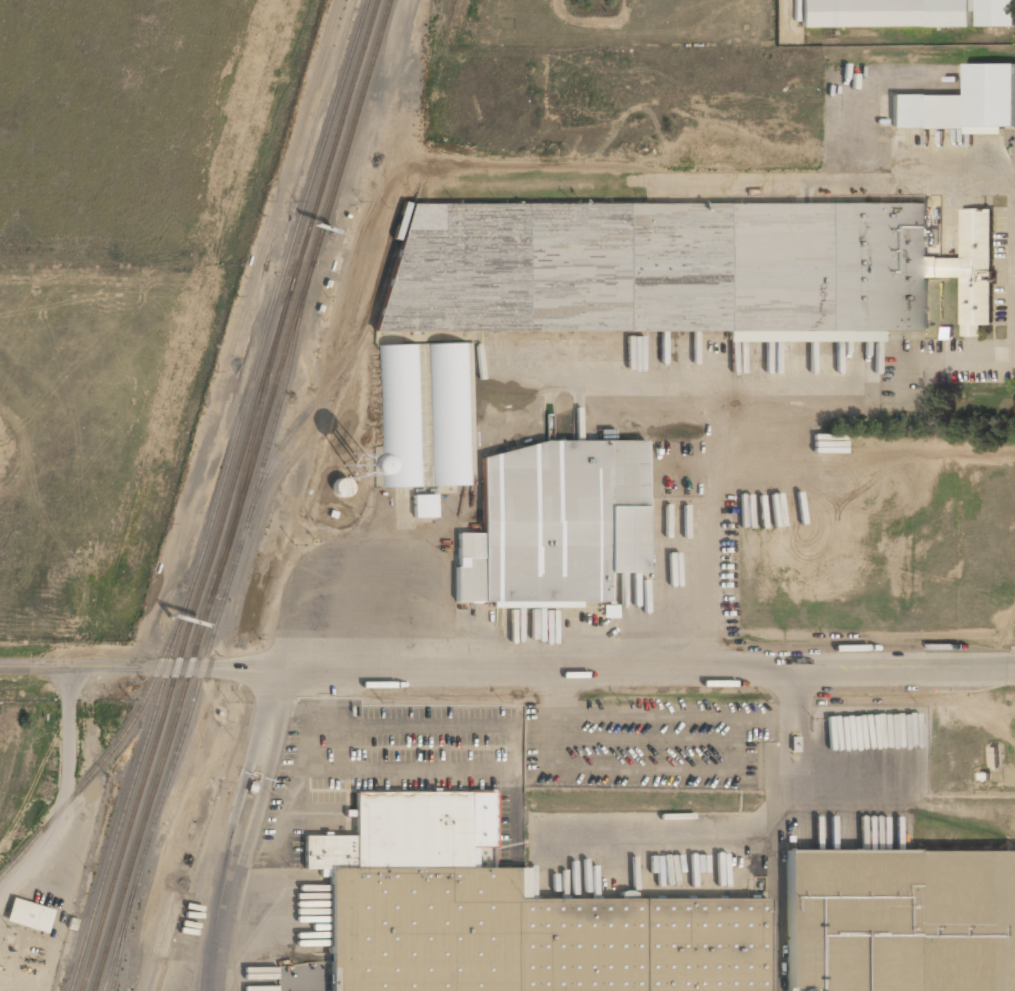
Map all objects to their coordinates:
building: (905, 13)
building: (961, 102)
building: (682, 269)
railway: (342, 369)
building: (423, 415)
building: (358, 465)
railway: (218, 495)
railway: (228, 495)
railway: (241, 495)
building: (423, 506)
building: (553, 523)
railway: (211, 638)
road: (507, 669)
railway: (113, 749)
road: (240, 829)
building: (29, 915)
railway: (122, 941)

